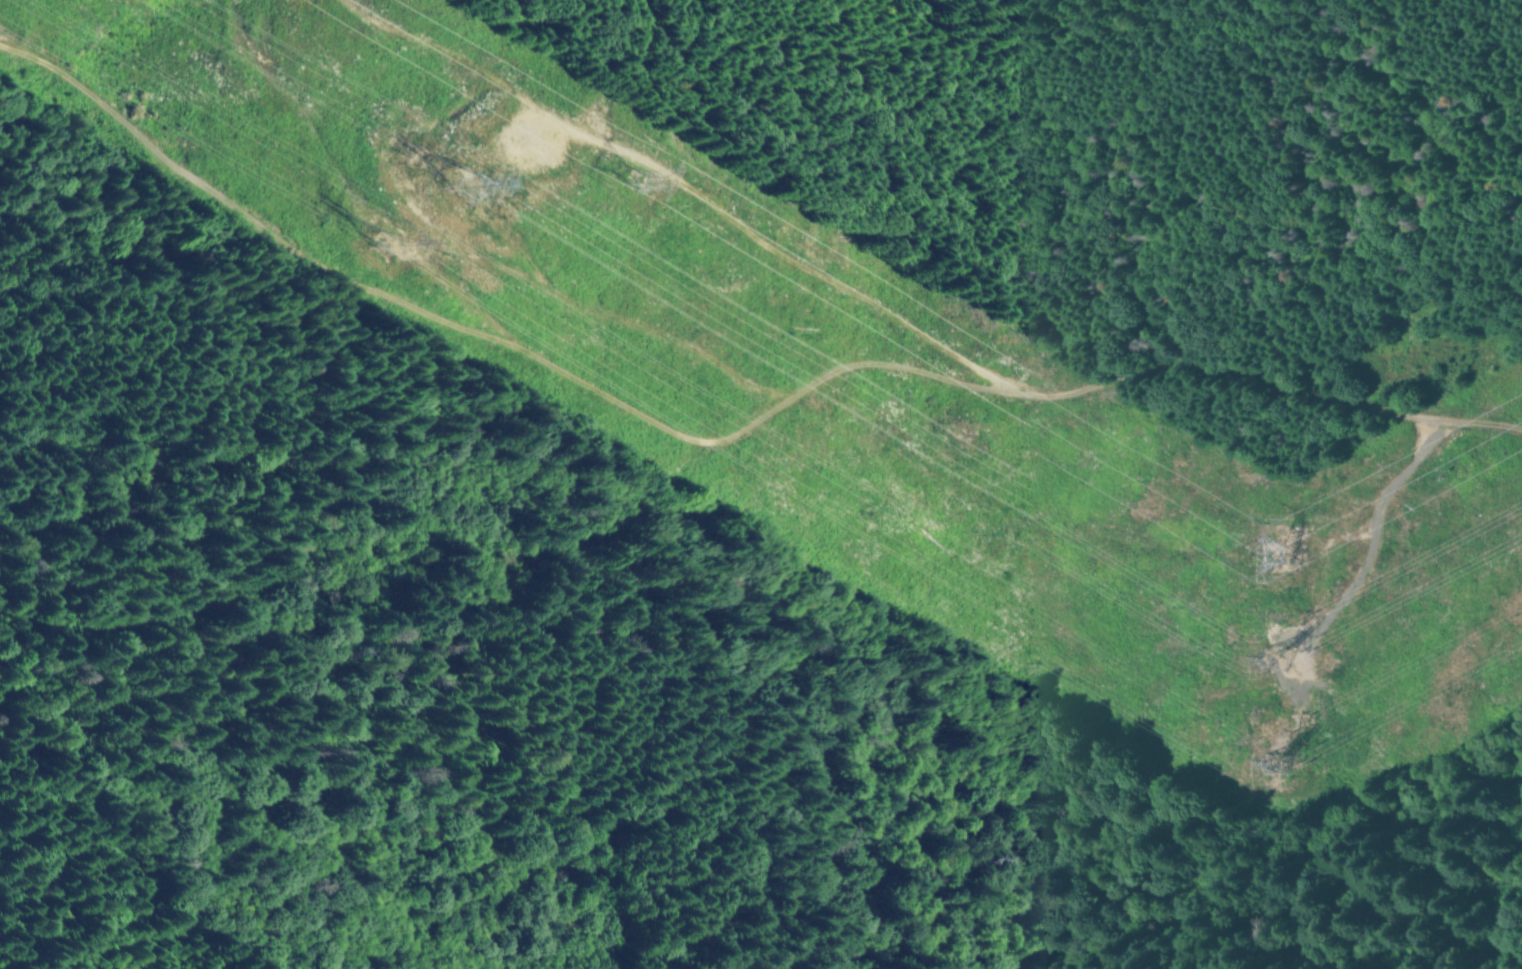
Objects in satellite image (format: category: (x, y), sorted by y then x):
power tower: (410, 154)
power tower: (637, 180)
power tower: (380, 242)
road: (722, 436)
power tower: (1278, 553)
power tower: (1267, 657)
power tower: (1272, 763)

